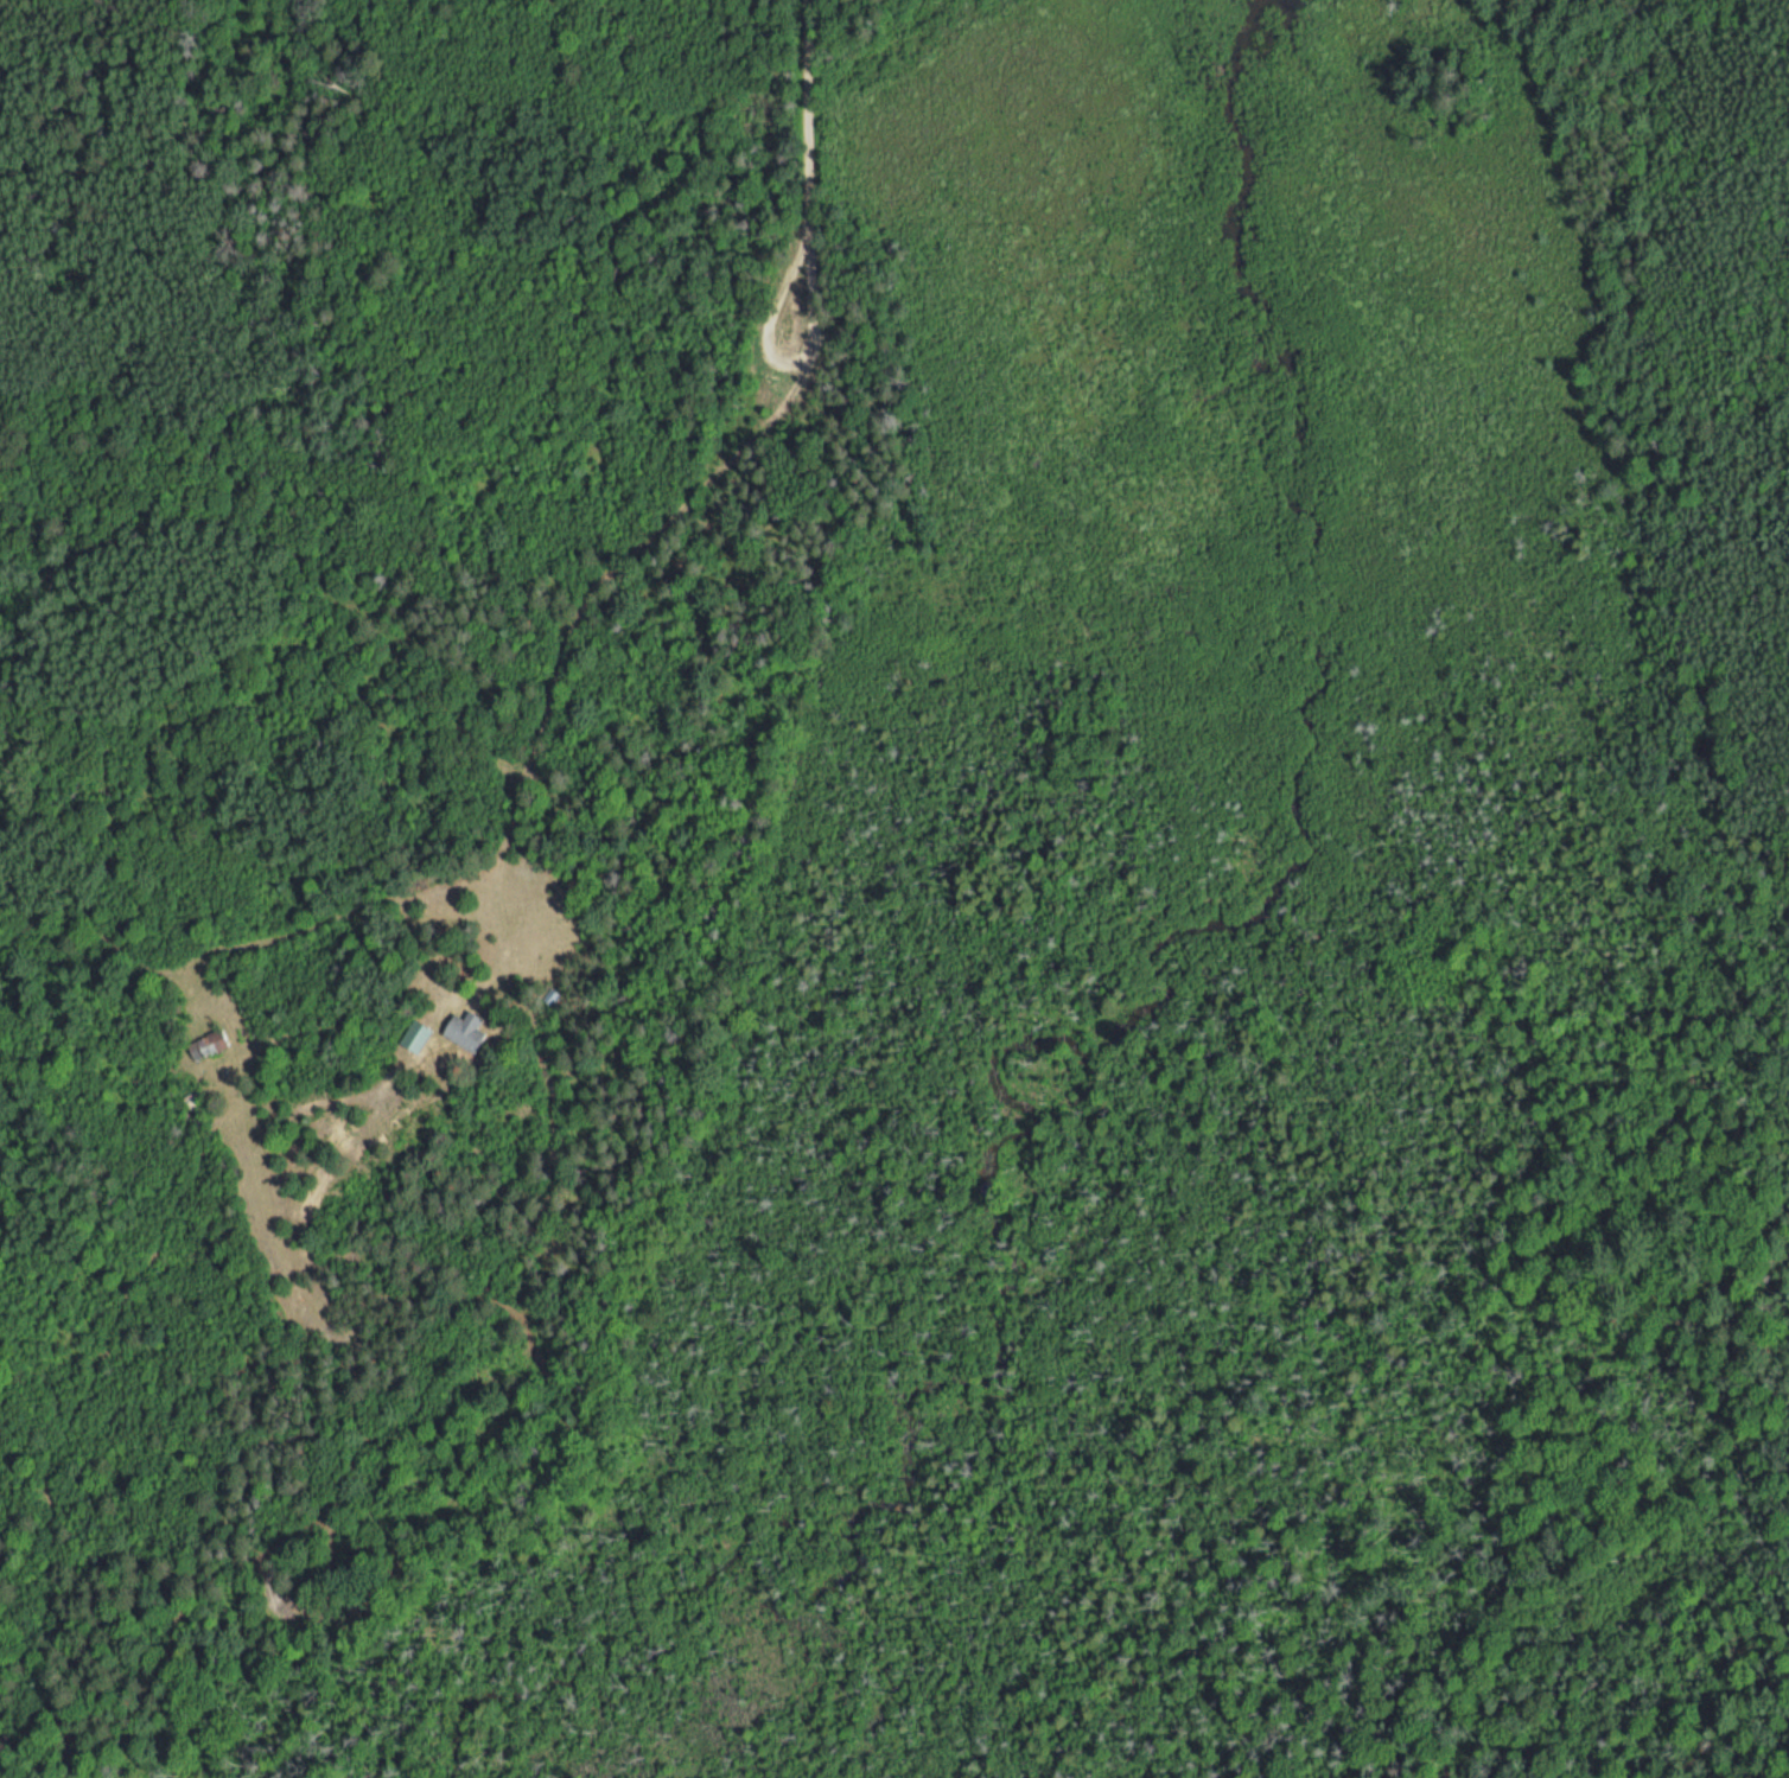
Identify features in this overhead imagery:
road: (637, 542)
building: (460, 1032)
building: (204, 1043)

